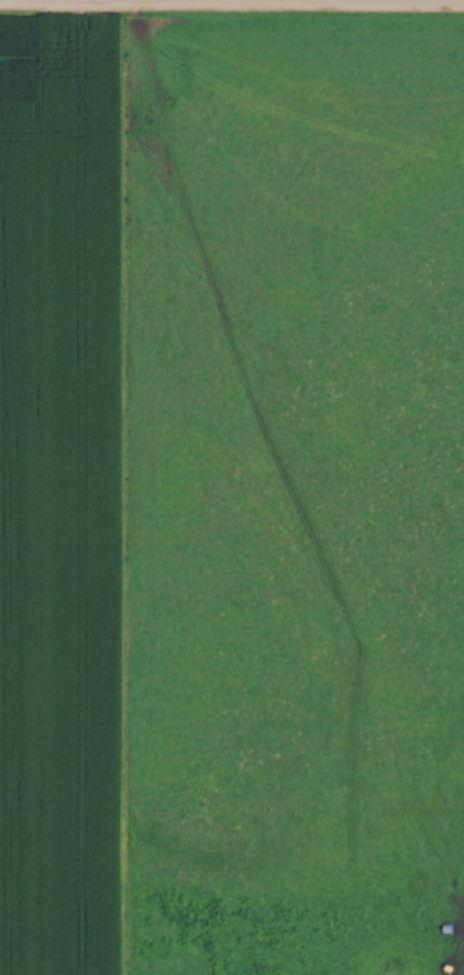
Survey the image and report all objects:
road: (232, 6)

